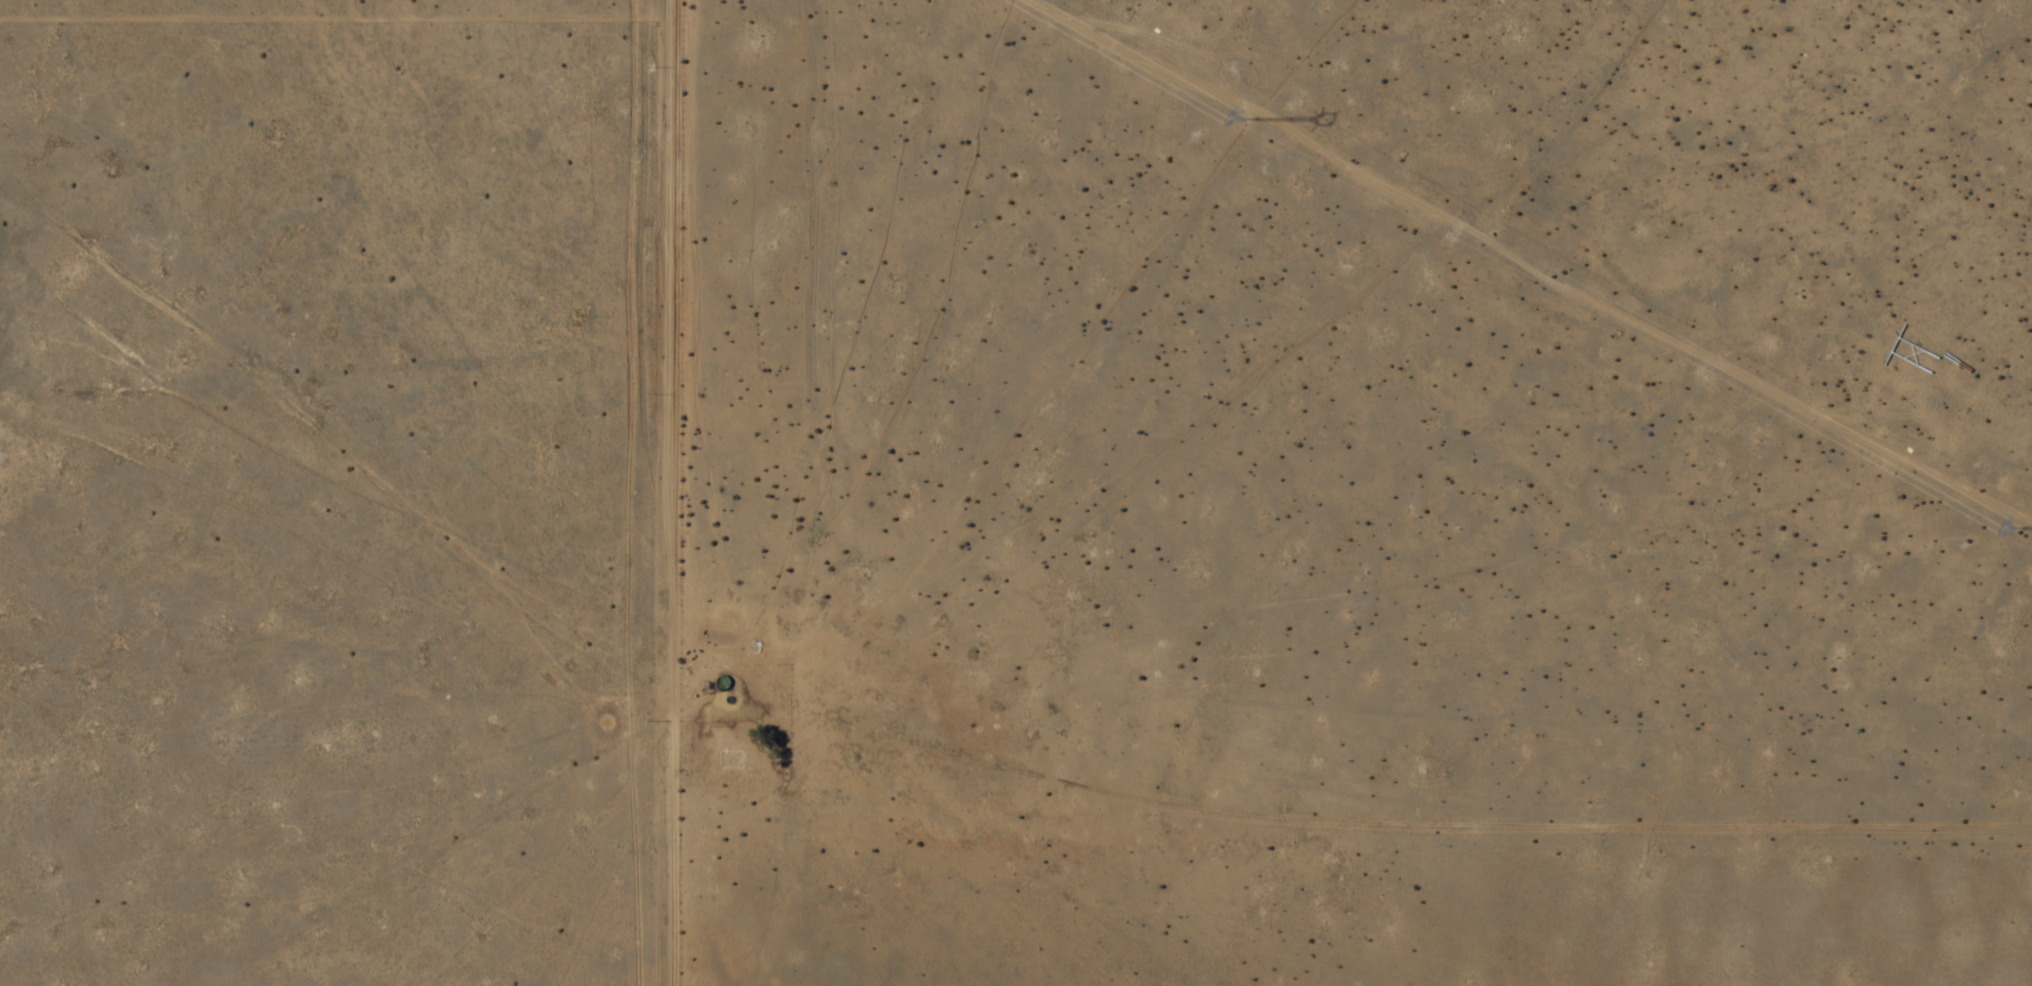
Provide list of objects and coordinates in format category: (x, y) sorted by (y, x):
power tower: (1246, 118)
road: (654, 493)
power tower: (2015, 527)
road: (1334, 819)

